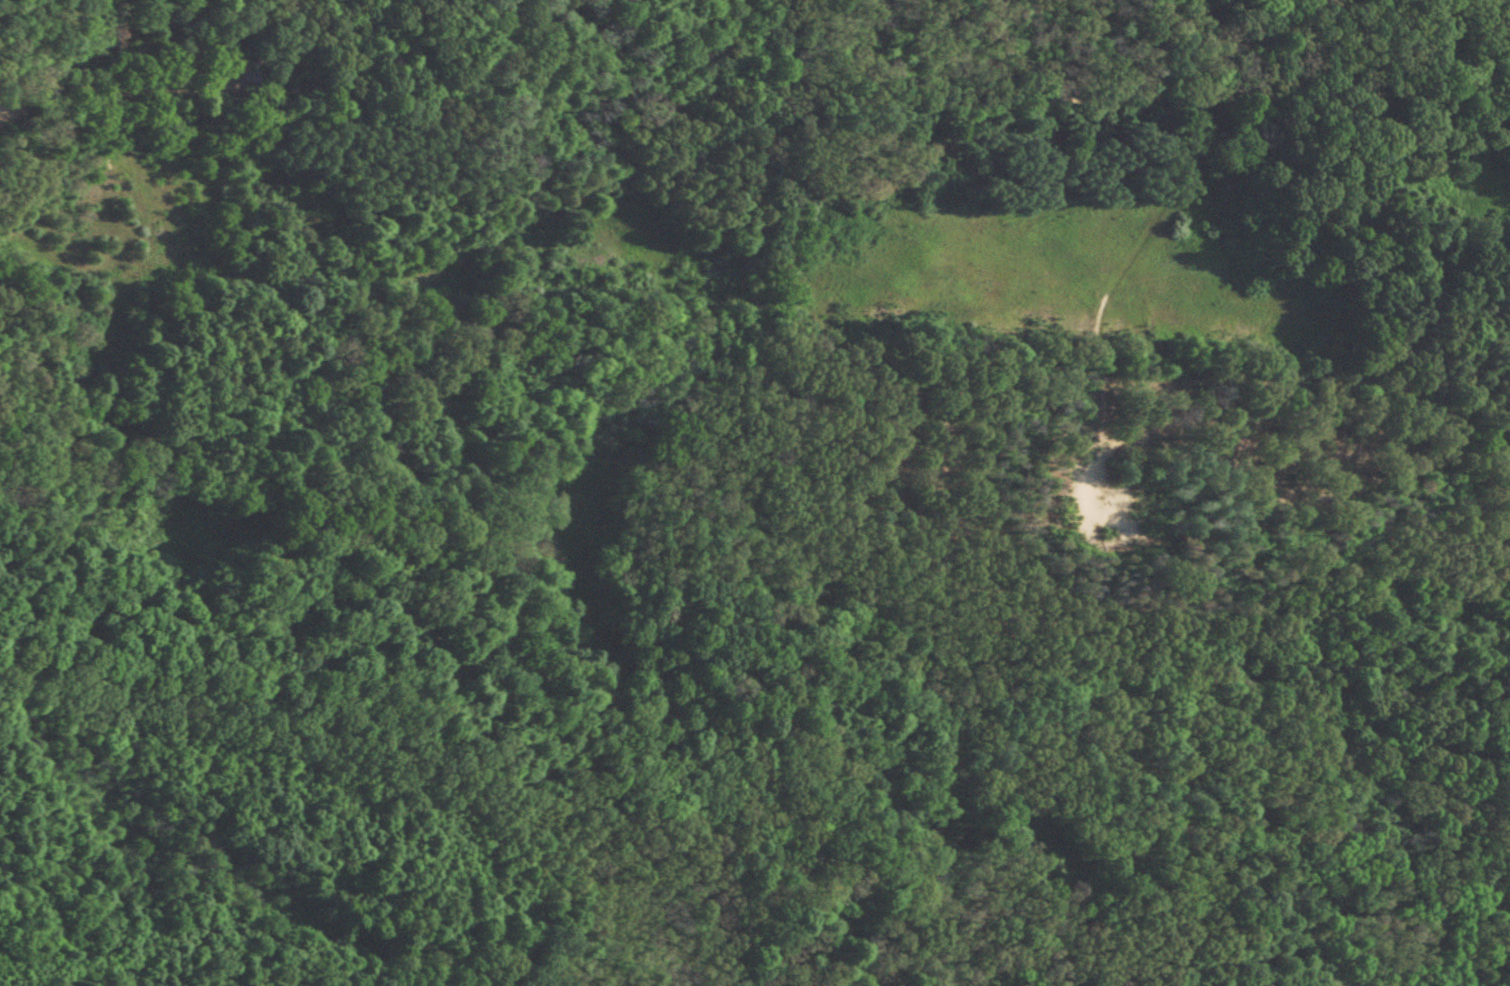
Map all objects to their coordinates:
road: (754, 85)

